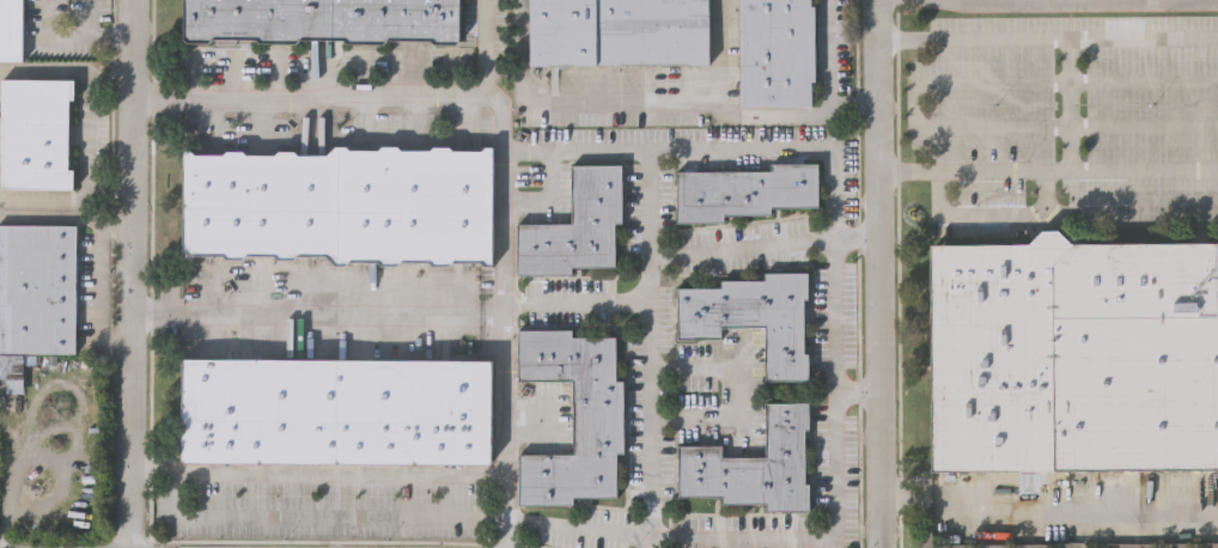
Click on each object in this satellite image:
road: (1053, 1)
road: (1216, 1)
road: (1073, 2)
building: (260, 18)
building: (397, 19)
building: (12, 29)
building: (621, 31)
road: (1047, 35)
road: (71, 37)
road: (494, 48)
building: (778, 53)
road: (719, 54)
road: (827, 54)
road: (66, 72)
road: (1071, 102)
road: (915, 104)
road: (651, 108)
parking lot: (1061, 111)
building: (37, 132)
road: (85, 135)
road: (504, 139)
road: (1048, 170)
road: (1042, 191)
building: (745, 193)
road: (66, 199)
building: (261, 205)
building: (416, 206)
road: (1056, 212)
road: (66, 214)
building: (575, 226)
road: (763, 249)
road: (133, 274)
road: (879, 274)
building: (38, 287)
road: (98, 292)
road: (560, 299)
road: (145, 311)
road: (317, 313)
road: (833, 316)
building: (754, 317)
road: (648, 349)
building: (1074, 354)
building: (13, 373)
road: (738, 395)
road: (858, 396)
building: (260, 408)
building: (415, 409)
building: (572, 415)
building: (754, 465)
road: (317, 476)
road: (1049, 514)
road: (319, 516)

